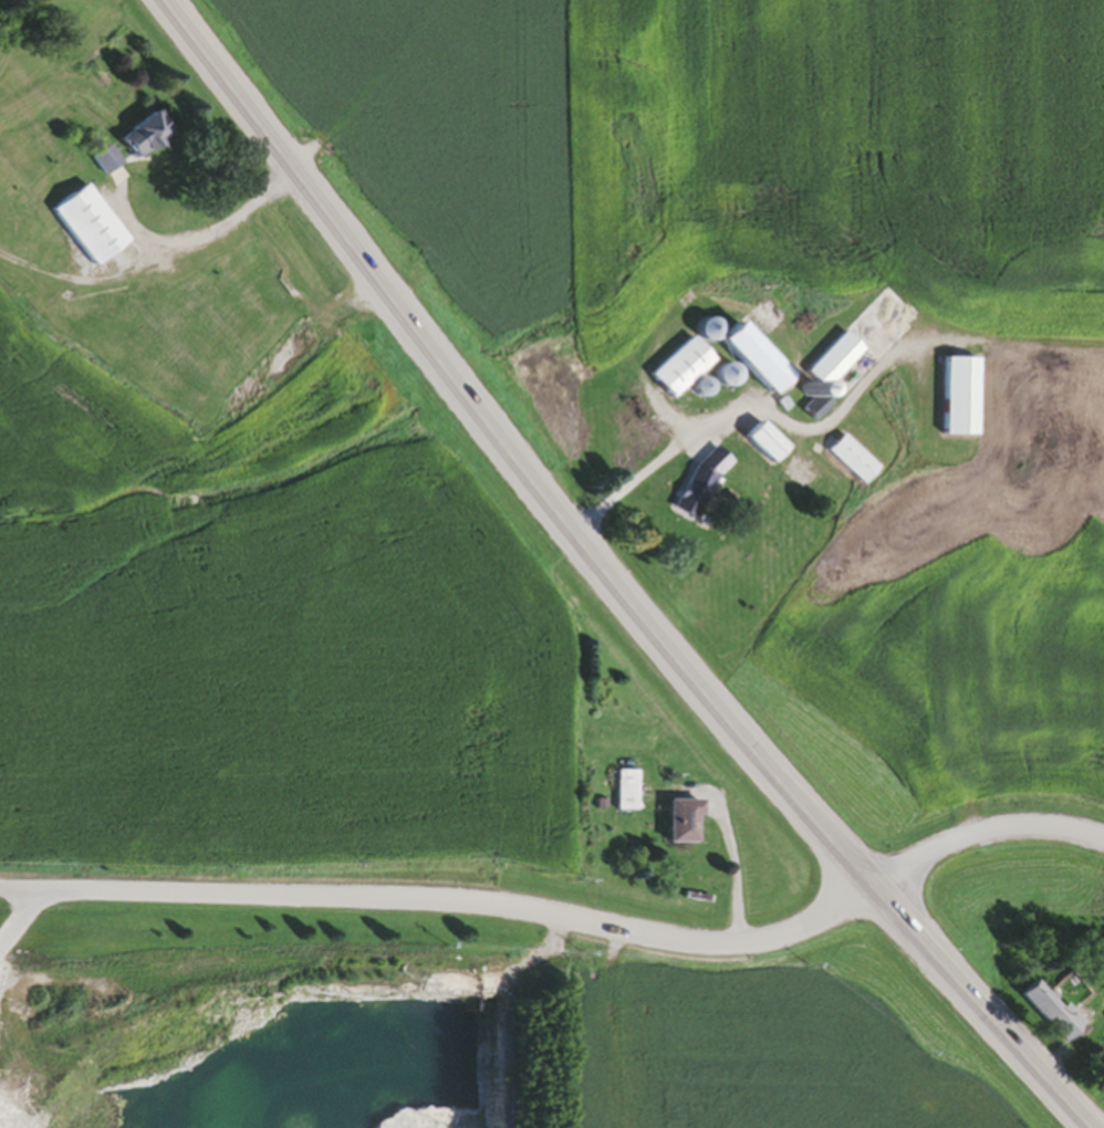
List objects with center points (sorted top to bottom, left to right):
road: (18, 22)
building: (140, 137)
building: (103, 161)
building: (33, 171)
building: (22, 206)
building: (85, 227)
building: (27, 231)
road: (153, 255)
building: (127, 313)
building: (732, 338)
building: (108, 346)
building: (844, 352)
building: (287, 362)
building: (175, 370)
building: (677, 370)
building: (721, 379)
building: (957, 399)
building: (761, 446)
road: (644, 461)
building: (848, 462)
building: (697, 485)
road: (603, 586)
building: (625, 793)
building: (680, 824)
road: (975, 828)
road: (729, 854)
road: (440, 896)
quarry: (298, 1011)
building: (1051, 1015)

